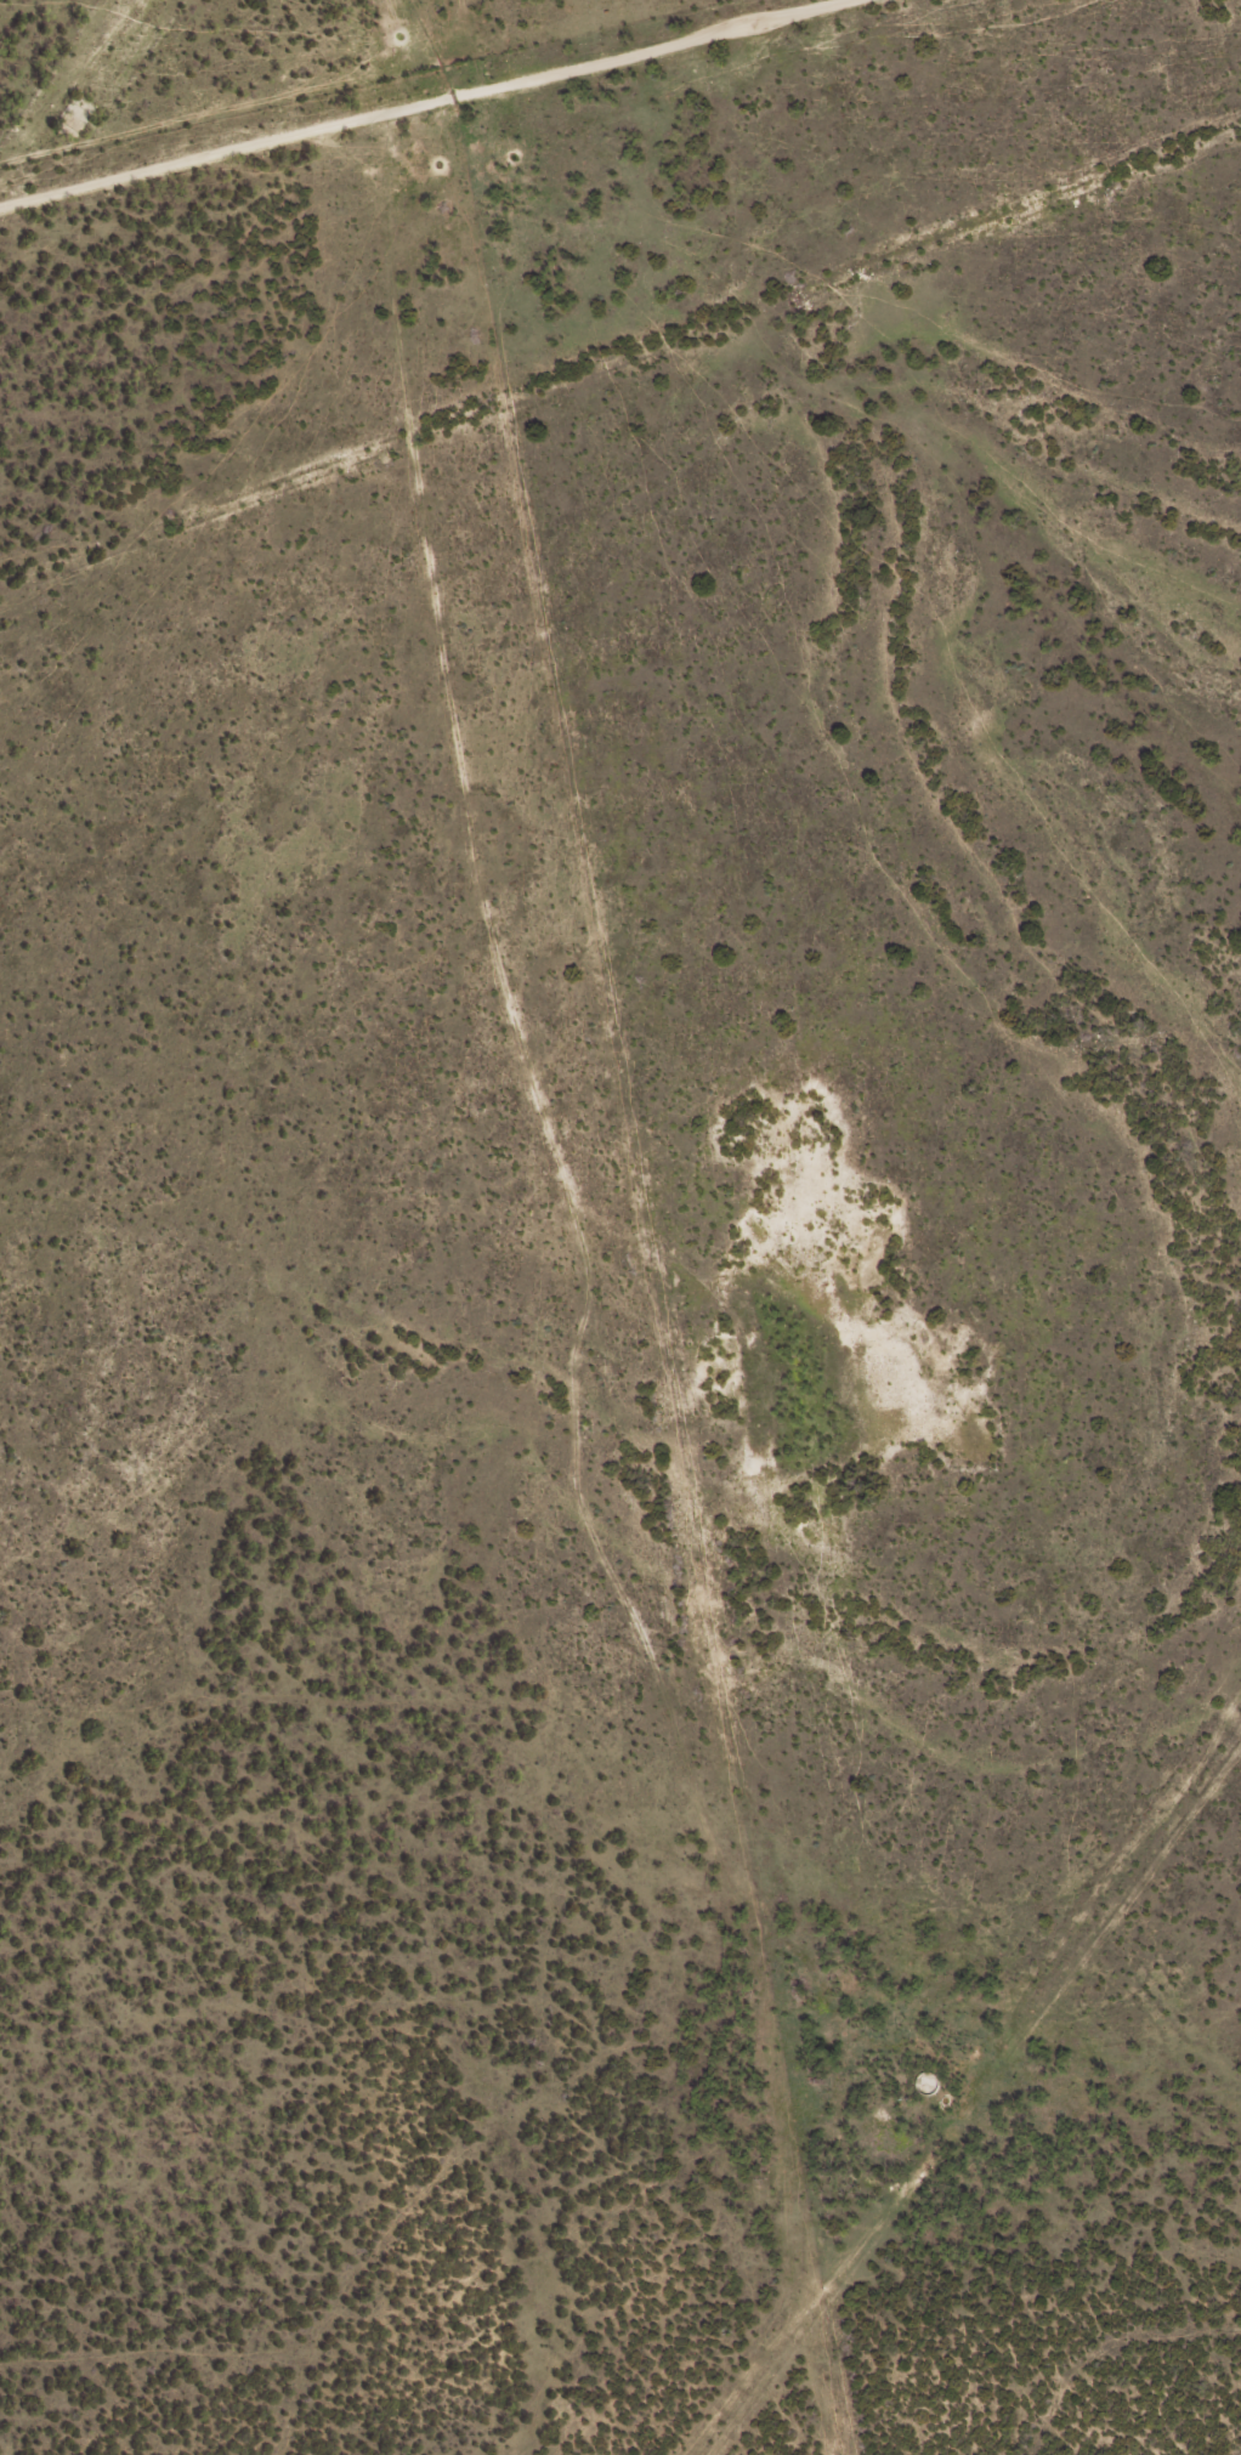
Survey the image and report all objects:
road: (495, 117)
road: (634, 1184)
road: (924, 2176)

